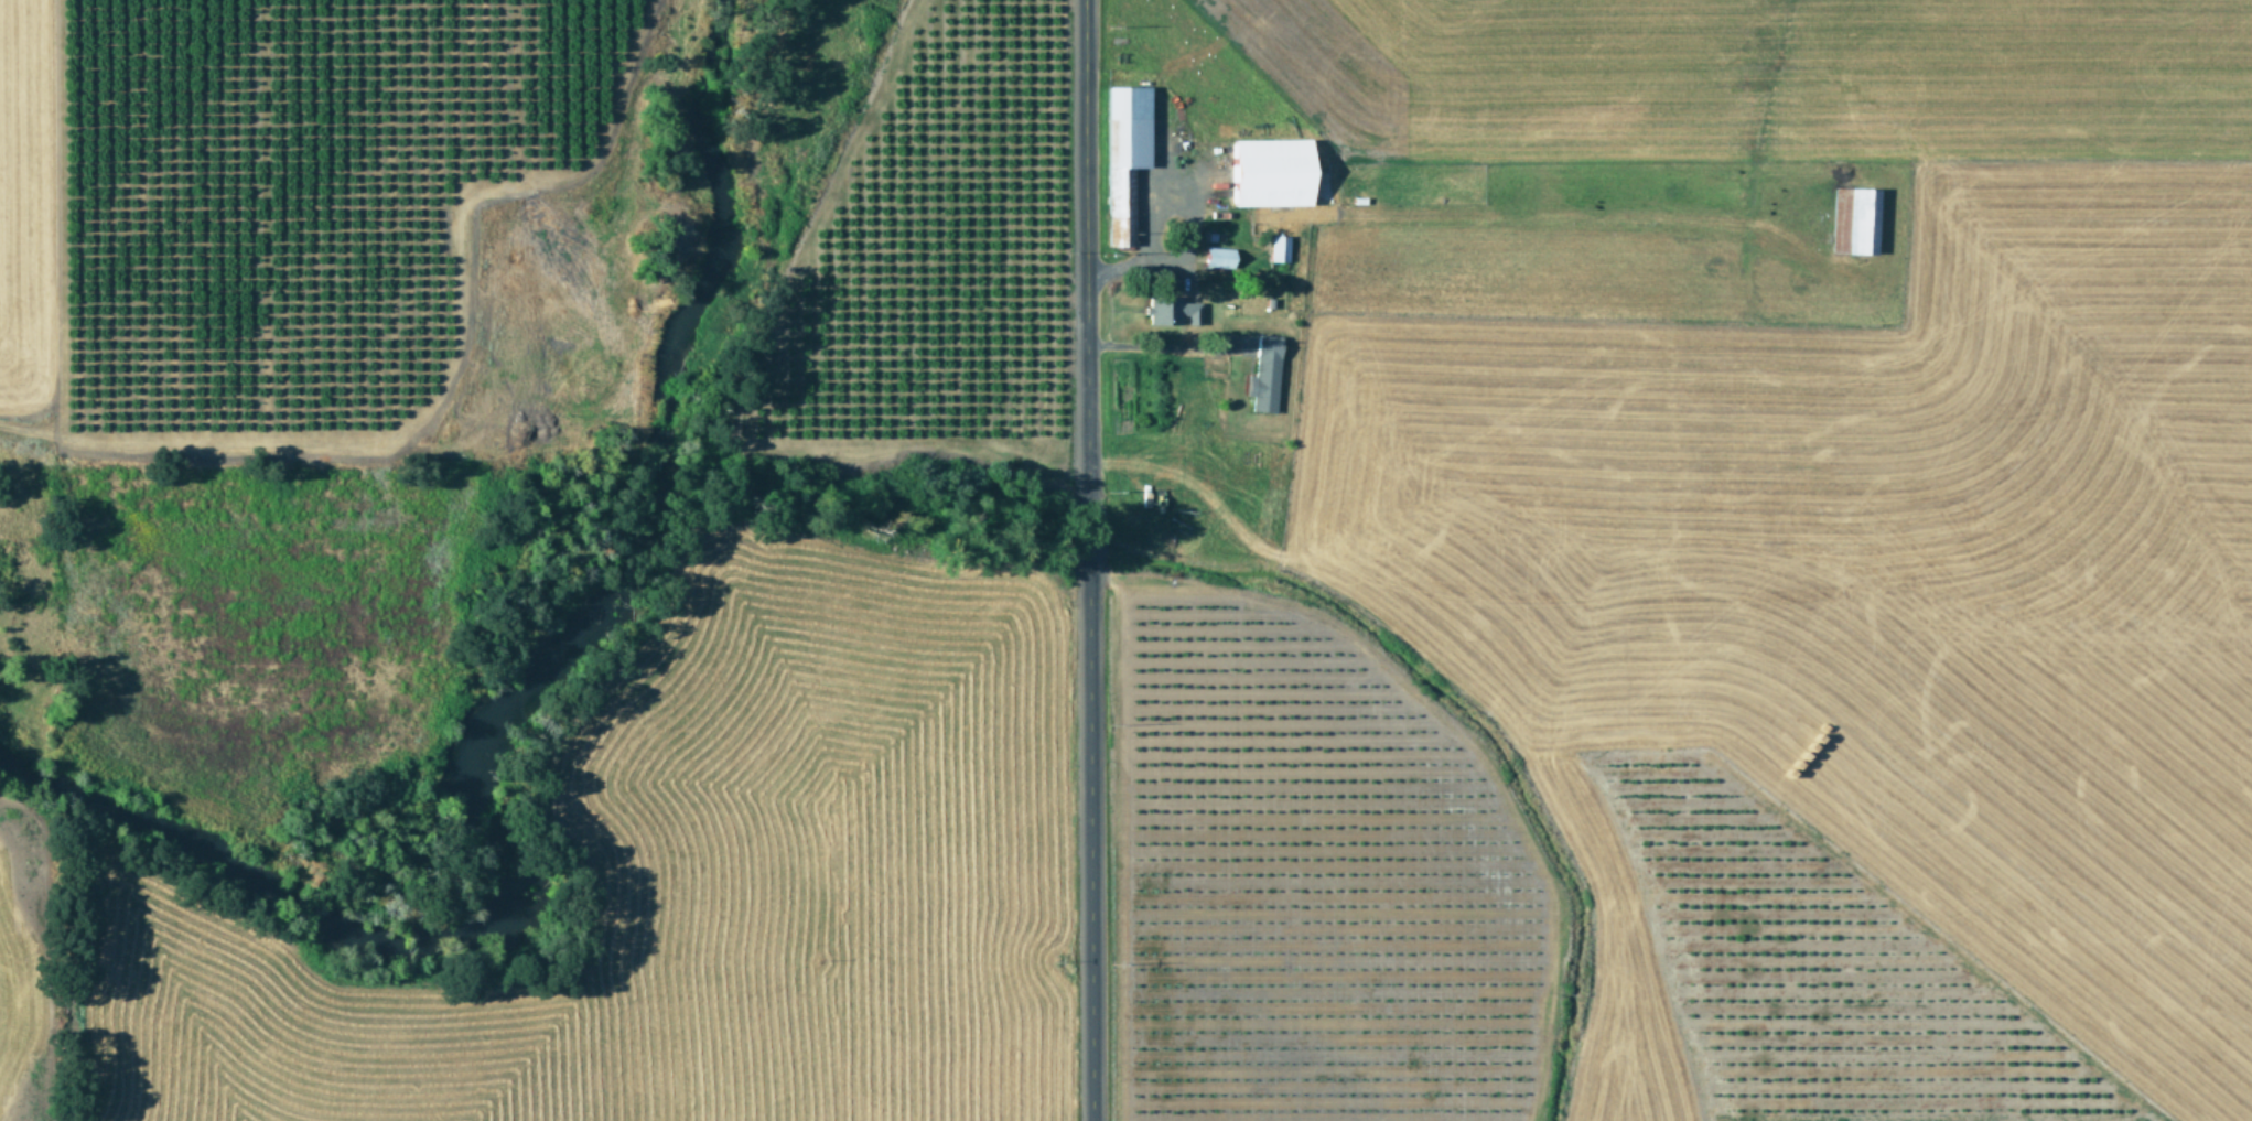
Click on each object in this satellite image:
building: (1123, 157)
building: (1269, 172)
building: (1854, 220)
building: (1278, 249)
building: (1217, 257)
building: (1170, 311)
building: (1263, 375)
road: (1085, 560)
crop: (1433, 603)

